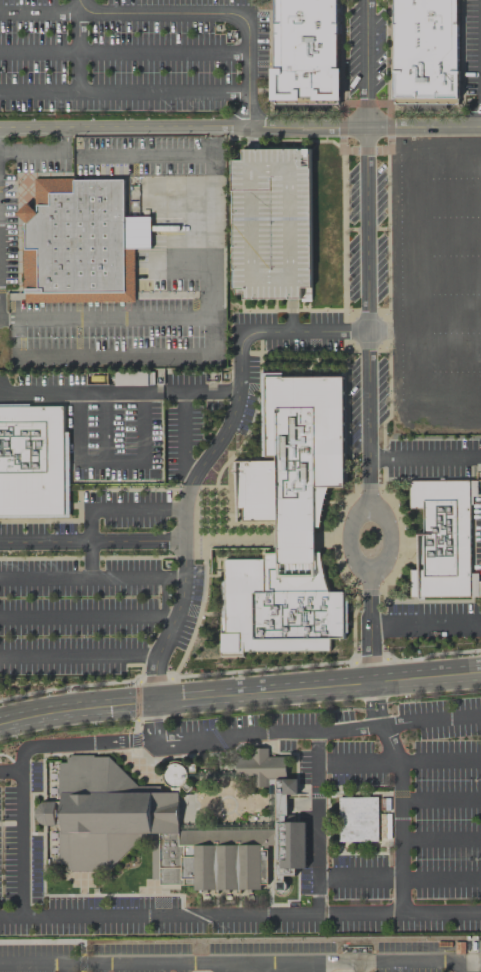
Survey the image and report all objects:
road: (48, 12)
road: (211, 12)
parking lot: (366, 49)
building: (307, 51)
building: (426, 51)
road: (77, 52)
parking lot: (473, 53)
road: (123, 54)
parking lot: (133, 55)
road: (123, 94)
road: (424, 113)
road: (303, 114)
road: (240, 124)
road: (252, 134)
road: (44, 151)
road: (147, 153)
building: (272, 221)
parking garage: (272, 221)
building: (81, 241)
road: (369, 256)
road: (292, 313)
road: (190, 315)
road: (287, 329)
road: (115, 355)
road: (38, 390)
road: (181, 408)
building: (295, 451)
road: (425, 456)
road: (144, 458)
building: (33, 460)
road: (122, 507)
road: (364, 515)
road: (242, 537)
building: (442, 537)
road: (296, 538)
road: (327, 538)
road: (92, 542)
road: (185, 544)
road: (91, 559)
road: (92, 576)
building: (279, 604)
road: (202, 606)
road: (88, 617)
road: (370, 618)
road: (426, 623)
road: (438, 653)
road: (80, 654)
road: (371, 658)
road: (360, 659)
road: (397, 661)
road: (139, 664)
road: (262, 668)
road: (426, 668)
road: (155, 677)
road: (179, 680)
road: (372, 680)
road: (426, 682)
road: (132, 685)
road: (66, 686)
road: (188, 691)
road: (378, 696)
road: (370, 698)
road: (139, 702)
road: (185, 704)
road: (3, 714)
road: (383, 715)
road: (373, 720)
road: (432, 720)
road: (138, 731)
road: (253, 733)
road: (137, 739)
road: (78, 744)
parking lot: (462, 744)
road: (60, 753)
road: (7, 755)
road: (297, 755)
road: (399, 763)
road: (28, 766)
building: (262, 766)
road: (11, 773)
building: (212, 775)
road: (148, 780)
road: (298, 785)
road: (360, 786)
road: (397, 793)
road: (319, 794)
road: (441, 798)
building: (272, 803)
road: (32, 813)
building: (116, 816)
parking lot: (412, 816)
road: (402, 817)
building: (359, 818)
road: (329, 819)
road: (317, 822)
rooftop solar panel: (80, 828)
building: (288, 836)
road: (441, 837)
road: (349, 842)
road: (22, 844)
road: (383, 846)
parking lot: (21, 847)
road: (362, 852)
building: (226, 857)
road: (340, 866)
road: (276, 875)
road: (44, 877)
road: (399, 879)
road: (271, 880)
road: (34, 884)
road: (88, 887)
road: (161, 889)
road: (113, 894)
road: (298, 896)
road: (184, 897)
road: (279, 904)
road: (82, 906)
road: (154, 906)
road: (240, 915)
road: (56, 941)
parking lot: (239, 957)
road: (234, 962)
road: (469, 966)
road: (66, 968)

